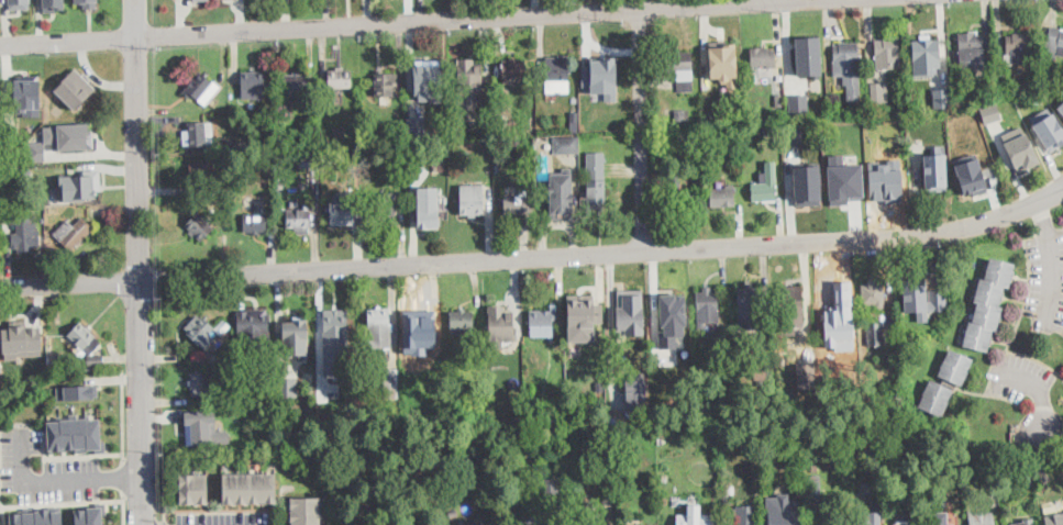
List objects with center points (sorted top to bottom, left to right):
building: (279, 1)
building: (19, 3)
building: (87, 3)
building: (53, 4)
road: (400, 23)
building: (1054, 43)
building: (1014, 49)
building: (968, 52)
building: (888, 53)
building: (808, 55)
building: (924, 55)
building: (763, 57)
building: (722, 60)
building: (848, 65)
building: (513, 69)
building: (682, 69)
building: (557, 75)
building: (429, 78)
building: (340, 79)
building: (469, 82)
building: (385, 83)
building: (253, 85)
building: (296, 85)
building: (75, 88)
building: (201, 88)
building: (879, 92)
building: (29, 96)
building: (941, 97)
building: (726, 101)
building: (500, 103)
building: (1061, 105)
building: (793, 107)
building: (989, 111)
building: (680, 114)
building: (710, 115)
building: (574, 116)
road: (641, 125)
building: (767, 131)
building: (1050, 131)
building: (411, 132)
building: (459, 132)
building: (198, 134)
building: (302, 134)
building: (340, 134)
building: (68, 135)
building: (794, 135)
building: (268, 136)
building: (328, 138)
building: (376, 139)
building: (686, 141)
building: (235, 143)
building: (514, 144)
building: (566, 144)
building: (1019, 147)
building: (35, 150)
building: (356, 153)
building: (287, 158)
building: (307, 158)
building: (201, 170)
building: (934, 170)
building: (970, 175)
building: (843, 179)
building: (887, 179)
building: (596, 180)
building: (807, 183)
building: (80, 185)
building: (765, 185)
building: (680, 189)
road: (1059, 193)
building: (561, 194)
building: (722, 197)
building: (472, 199)
building: (386, 203)
building: (517, 204)
building: (428, 206)
building: (345, 214)
building: (298, 217)
building: (255, 223)
building: (199, 225)
building: (24, 231)
building: (71, 233)
road: (605, 254)
road: (1052, 260)
road: (139, 262)
parking lot: (1047, 279)
road: (69, 284)
building: (831, 293)
building: (873, 293)
building: (789, 297)
building: (921, 299)
building: (707, 300)
building: (988, 304)
building: (749, 308)
building: (629, 310)
building: (672, 313)
building: (583, 316)
building: (420, 317)
building: (542, 319)
building: (462, 321)
building: (500, 322)
building: (254, 326)
building: (379, 327)
building: (207, 332)
building: (875, 334)
building: (295, 336)
building: (84, 337)
building: (335, 340)
building: (22, 342)
building: (198, 355)
building: (51, 356)
building: (95, 360)
building: (955, 367)
building: (407, 370)
building: (452, 375)
building: (762, 375)
building: (391, 376)
building: (206, 382)
building: (21, 383)
building: (599, 386)
road: (1036, 386)
building: (288, 387)
building: (76, 392)
building: (519, 393)
building: (636, 393)
building: (7, 394)
building: (935, 399)
building: (605, 400)
building: (532, 407)
building: (555, 414)
building: (716, 417)
building: (613, 418)
building: (386, 420)
building: (538, 424)
building: (204, 426)
building: (74, 434)
building: (248, 435)
building: (261, 435)
building: (661, 436)
building: (704, 436)
road: (1054, 436)
building: (622, 438)
building: (292, 442)
building: (911, 444)
road: (109, 451)
road: (123, 456)
building: (259, 457)
building: (606, 466)
building: (815, 467)
parking lot: (45, 470)
road: (123, 476)
road: (58, 478)
building: (1028, 478)
building: (248, 485)
building: (192, 488)
building: (815, 489)
building: (608, 494)
building: (727, 494)
building: (941, 496)
building: (995, 499)
road: (62, 502)
building: (851, 503)
road: (164, 505)
road: (123, 507)
building: (780, 510)
building: (304, 511)
building: (453, 511)
road: (2, 514)
building: (90, 514)
building: (744, 515)
building: (37, 516)
building: (542, 516)
building: (695, 517)
parking lot: (225, 518)
building: (941, 518)
building: (824, 520)
building: (1054, 520)
building: (984, 521)
building: (477, 522)
building: (1026, 522)
road: (164, 523)
building: (726, 523)
building: (866, 523)
building: (593, 524)
building: (635, 524)
building: (910, 524)

